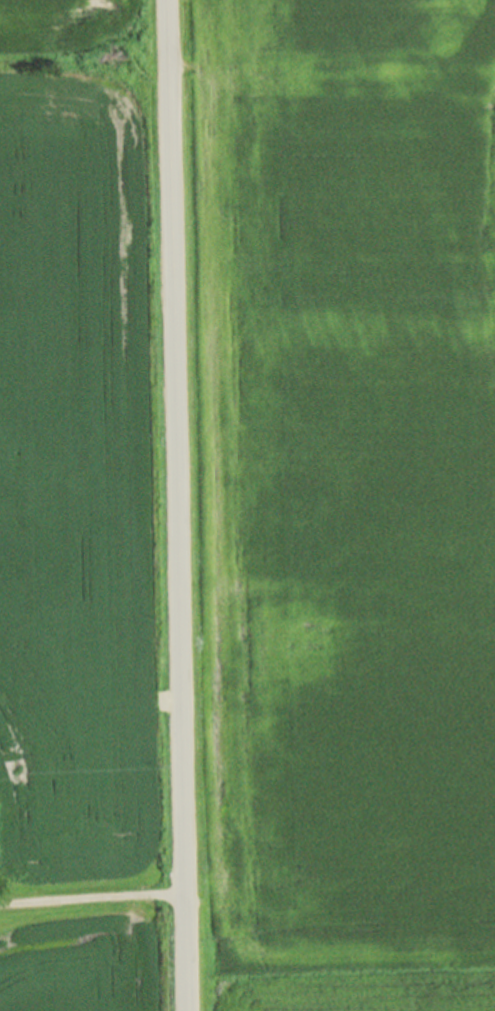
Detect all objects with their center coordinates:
road: (204, 225)
road: (179, 505)
road: (94, 896)

